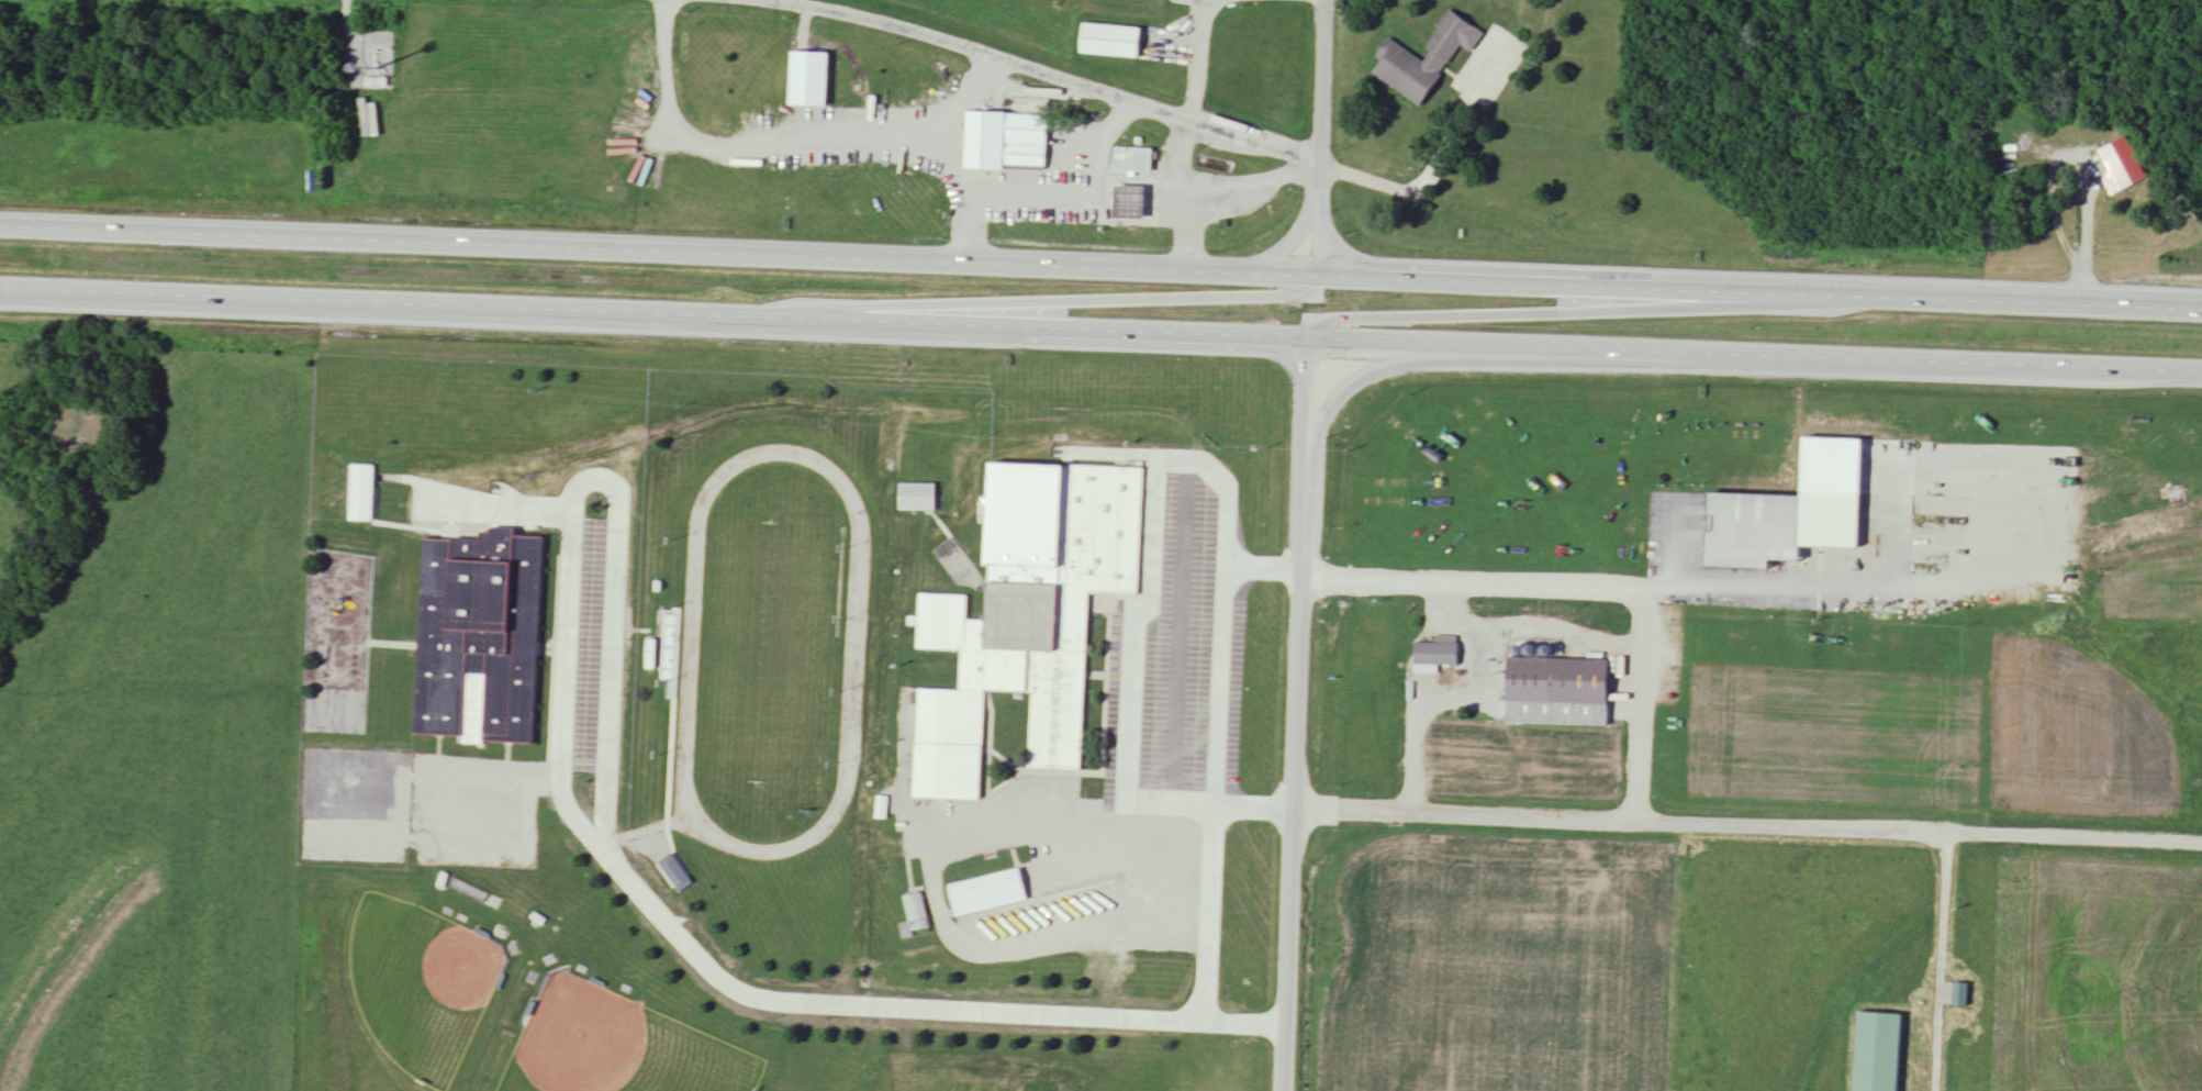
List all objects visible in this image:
building: (1113, 42)
road: (1192, 56)
building: (1400, 59)
road: (1043, 76)
building: (812, 80)
road: (949, 100)
road: (1321, 100)
road: (870, 136)
building: (999, 146)
building: (1132, 160)
building: (2122, 166)
road: (1132, 178)
road: (1250, 179)
road: (1424, 183)
road: (1181, 196)
building: (1131, 203)
road: (963, 227)
road: (2083, 236)
road: (1312, 240)
road: (1275, 251)
road: (1100, 270)
road: (1011, 301)
road: (1563, 310)
road: (1100, 333)
road: (1365, 371)
road: (1307, 392)
road: (589, 470)
building: (913, 493)
building: (361, 494)
building: (1780, 527)
road: (1843, 581)
crop: (2154, 583)
road: (1150, 601)
building: (1021, 614)
road: (1175, 632)
building: (477, 634)
park: (763, 649)
building: (1438, 653)
track: (851, 654)
building: (943, 678)
road: (1218, 686)
road: (1444, 694)
road: (1636, 705)
road: (1295, 767)
building: (1057, 789)
road: (1026, 819)
road: (1918, 834)
building: (670, 868)
building: (983, 890)
road: (1207, 913)
building: (916, 919)
crop: (1491, 961)
road: (1937, 962)
crop: (2094, 973)
park: (417, 981)
building: (1959, 998)
road: (907, 1007)
park: (614, 1045)
building: (1878, 1053)

